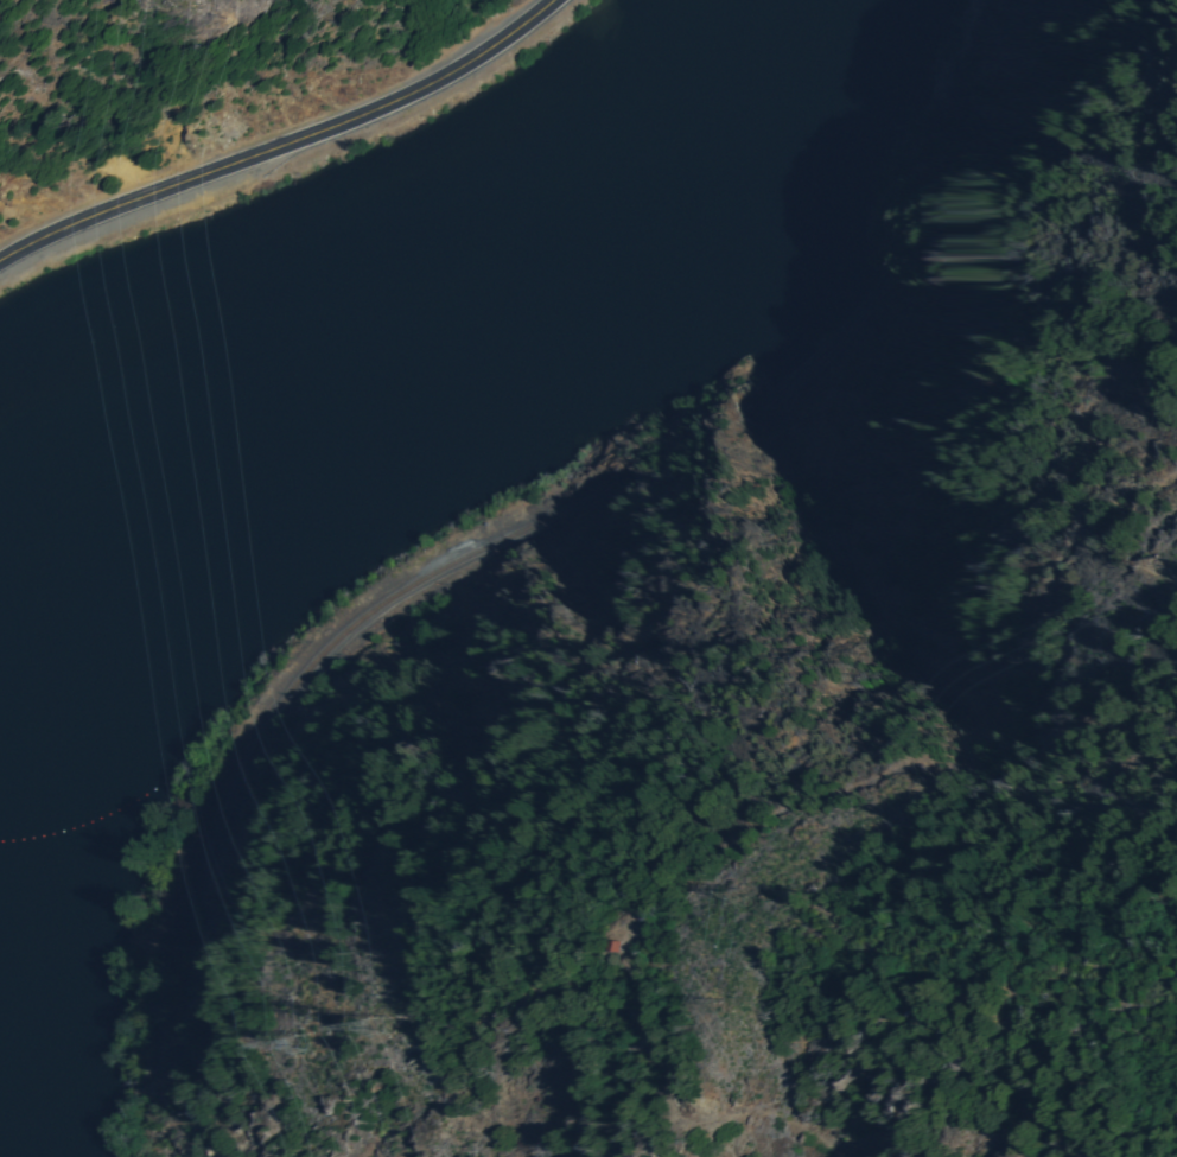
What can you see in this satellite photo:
railway: (968, 62)
river: (692, 117)
road: (284, 142)
river: (537, 271)
river: (218, 427)
railway: (478, 546)
power tower: (1158, 567)
power tower: (744, 897)
power tower: (719, 1009)
power tower: (381, 1023)
power tower: (303, 1044)

